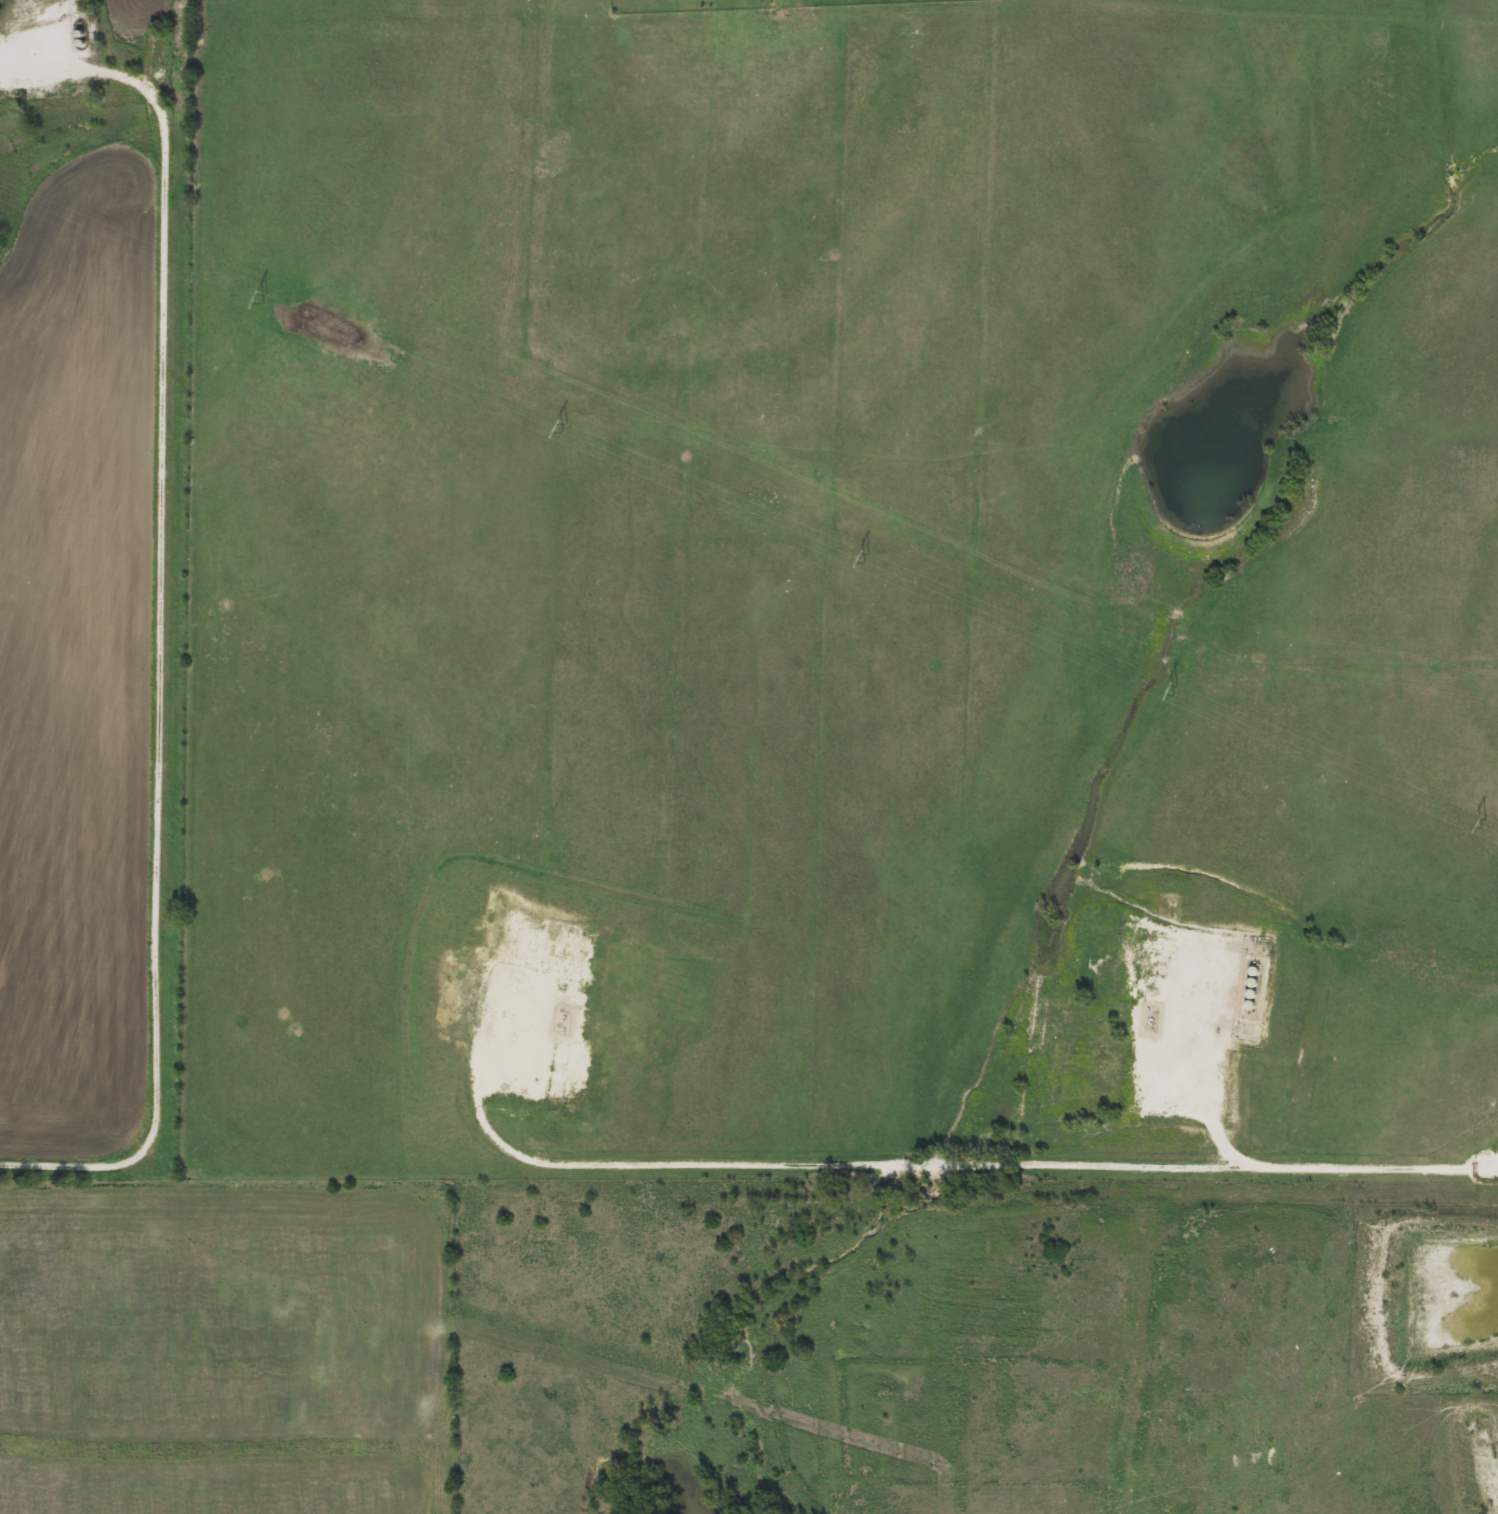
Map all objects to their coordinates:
road: (158, 648)
road: (953, 1160)

